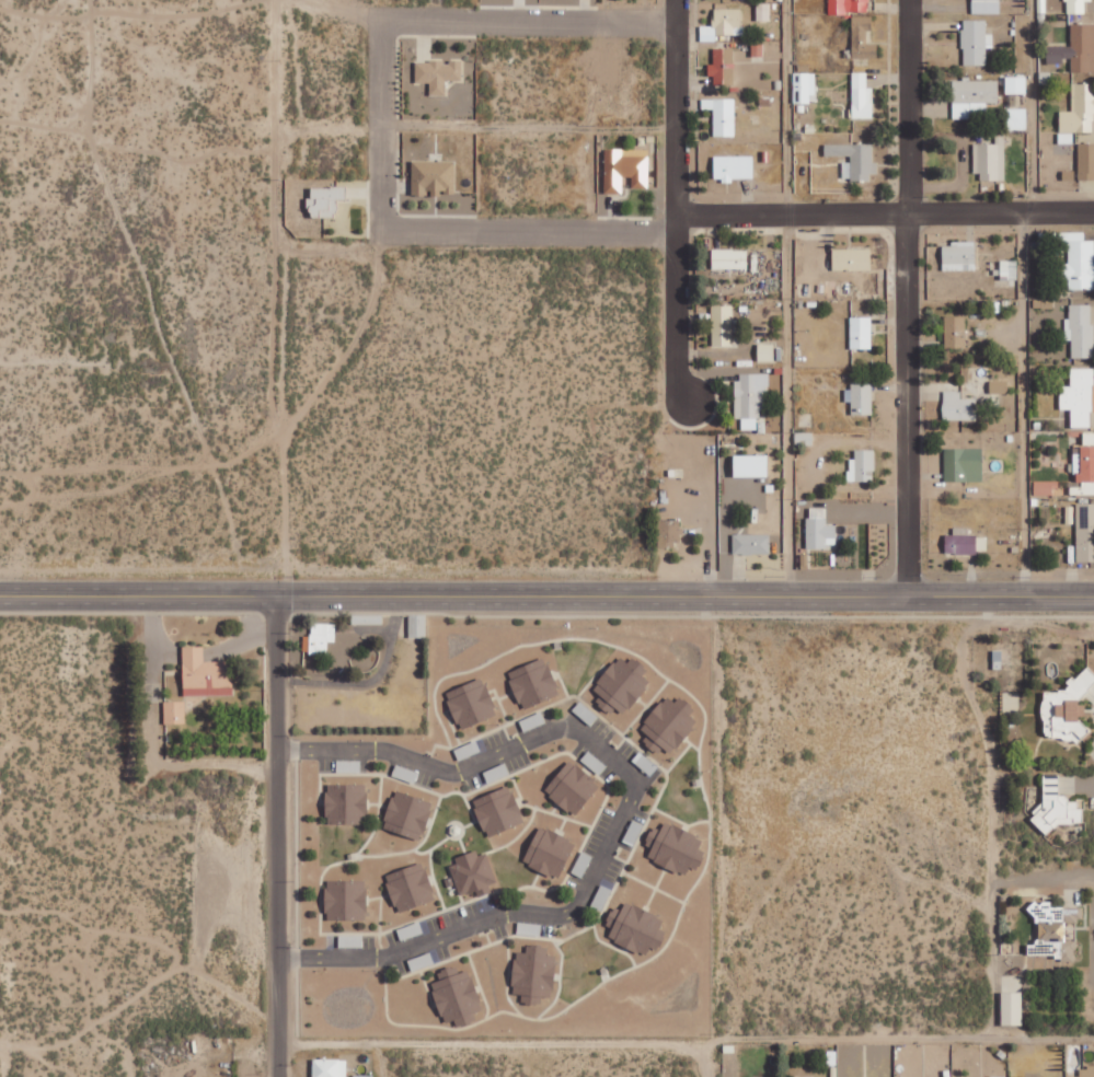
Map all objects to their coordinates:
building: (849, 5)
building: (1075, 5)
building: (986, 7)
building: (762, 11)
building: (723, 24)
building: (863, 37)
building: (976, 42)
building: (757, 48)
building: (1076, 49)
building: (722, 63)
building: (438, 73)
building: (1016, 84)
building: (804, 86)
building: (862, 95)
building: (974, 97)
road: (791, 109)
building: (1080, 109)
building: (722, 115)
building: (1017, 118)
road: (381, 121)
building: (1066, 138)
building: (854, 159)
building: (990, 160)
building: (1086, 161)
building: (734, 167)
building: (625, 169)
building: (434, 177)
building: (325, 200)
road: (673, 200)
road: (883, 218)
building: (959, 256)
building: (729, 258)
building: (852, 258)
building: (1078, 259)
building: (1009, 269)
road: (912, 299)
building: (723, 326)
building: (1080, 329)
building: (861, 332)
building: (955, 332)
building: (767, 351)
building: (999, 386)
building: (1080, 396)
building: (750, 397)
building: (860, 398)
building: (958, 406)
road: (791, 408)
road: (1022, 408)
building: (804, 438)
building: (1089, 438)
building: (964, 464)
building: (751, 465)
building: (862, 465)
building: (1084, 467)
building: (1046, 487)
building: (820, 529)
building: (668, 532)
building: (1085, 533)
building: (751, 544)
building: (961, 544)
road: (137, 600)
road: (683, 600)
building: (368, 618)
building: (417, 625)
building: (319, 637)
building: (206, 674)
building: (533, 682)
building: (622, 684)
building: (471, 703)
building: (1068, 708)
building: (174, 711)
building: (532, 720)
building: (669, 725)
building: (467, 750)
building: (594, 762)
building: (349, 765)
building: (500, 769)
building: (405, 773)
building: (573, 787)
building: (347, 802)
building: (1058, 803)
road: (623, 808)
building: (498, 810)
building: (407, 813)
building: (634, 830)
road: (275, 838)
road: (713, 838)
building: (676, 847)
building: (550, 852)
building: (581, 864)
building: (474, 873)
building: (410, 887)
building: (346, 899)
building: (636, 927)
building: (1056, 927)
building: (529, 928)
building: (410, 930)
building: (350, 940)
building: (423, 960)
building: (534, 973)
building: (457, 995)
building: (1012, 1007)
building: (331, 1067)
building: (1086, 1070)
building: (808, 1076)
building: (998, 1076)

